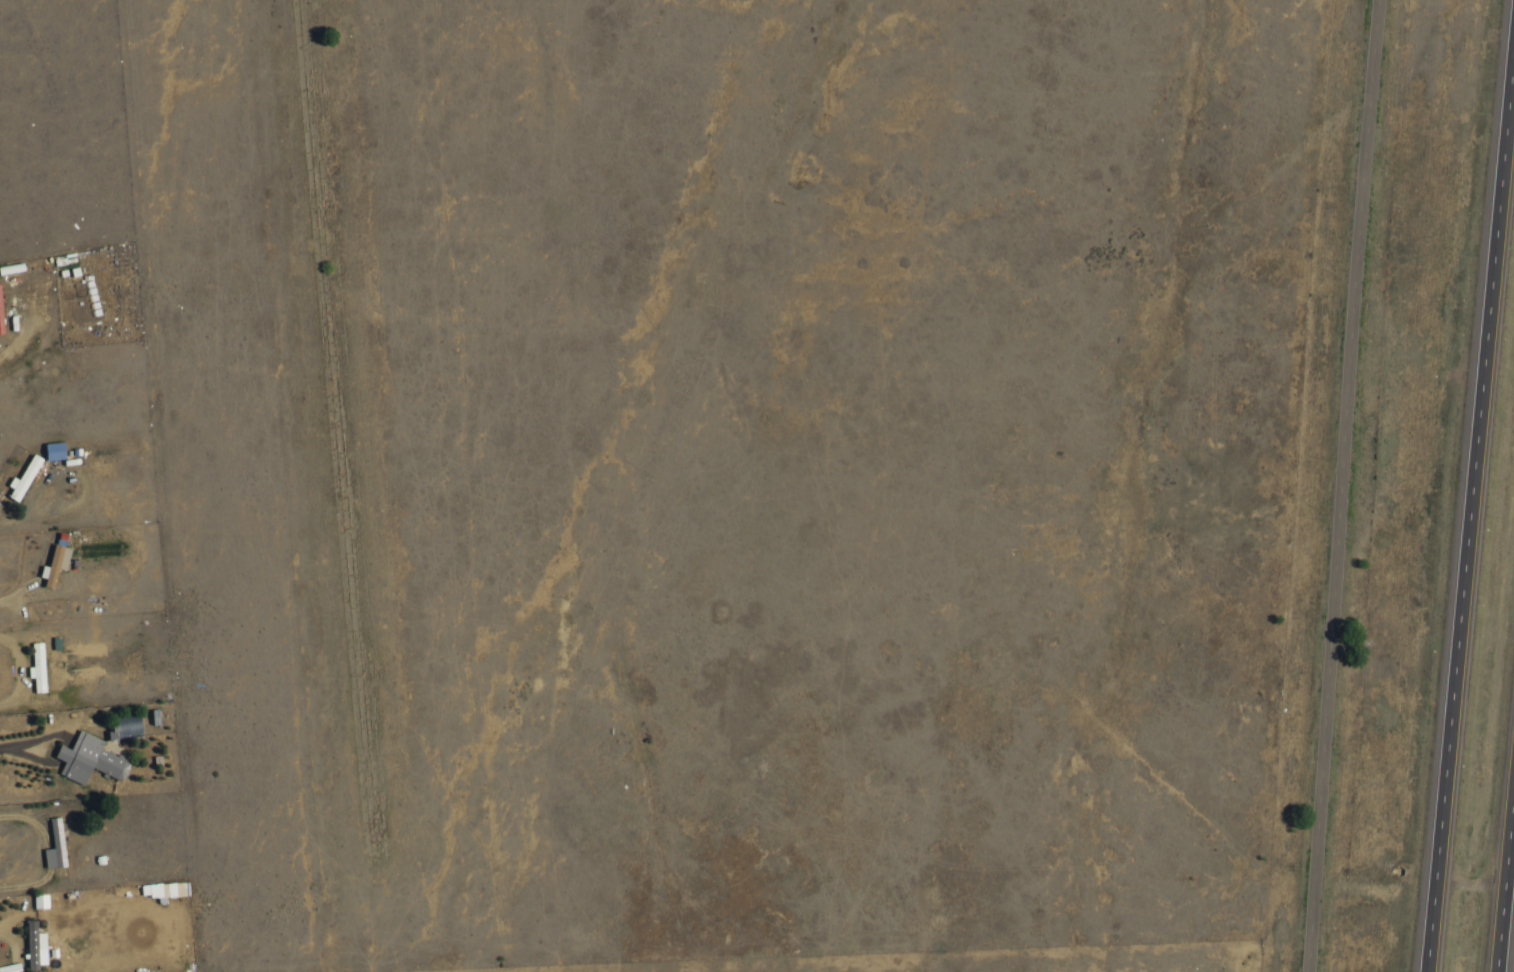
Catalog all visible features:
building: (1, 317)
road: (24, 354)
building: (56, 450)
airport runway: (342, 451)
road: (88, 474)
building: (24, 479)
road: (1341, 486)
road: (1468, 496)
road: (11, 523)
building: (56, 564)
building: (39, 667)
road: (32, 672)
road: (5, 745)
road: (73, 750)
building: (89, 759)
road: (47, 846)
building: (56, 846)
road: (1503, 858)
building: (41, 900)
building: (36, 946)
road: (22, 953)
building: (11, 968)

